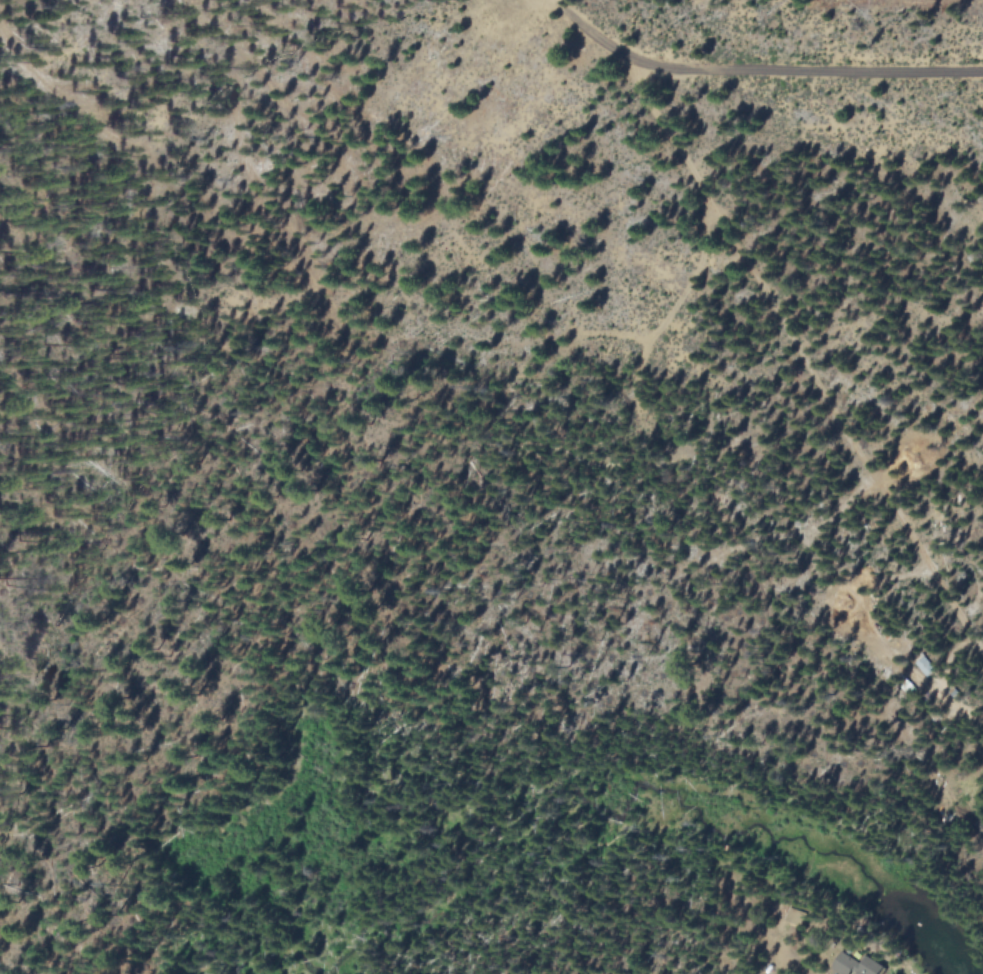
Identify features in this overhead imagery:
road: (599, 33)
road: (809, 73)
road: (969, 712)
building: (874, 968)

